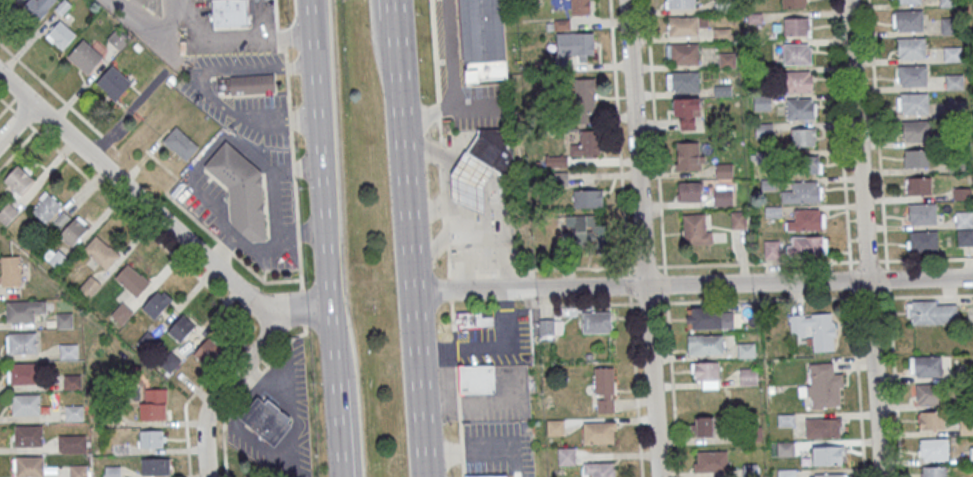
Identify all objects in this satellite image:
building: (5, 0)
building: (905, 1)
building: (793, 3)
building: (948, 3)
building: (680, 4)
building: (154, 6)
building: (580, 7)
building: (36, 8)
road: (394, 11)
building: (230, 14)
road: (276, 16)
road: (172, 18)
building: (907, 20)
building: (685, 25)
building: (949, 25)
building: (796, 26)
building: (60, 34)
road: (243, 38)
road: (281, 39)
building: (484, 39)
road: (378, 42)
building: (575, 44)
building: (911, 47)
road: (432, 50)
road: (449, 52)
building: (682, 53)
building: (797, 53)
building: (85, 56)
road: (286, 57)
parking lot: (236, 63)
road: (301, 66)
road: (214, 73)
building: (911, 75)
building: (683, 81)
building: (798, 81)
building: (113, 82)
building: (251, 84)
road: (288, 88)
road: (16, 89)
road: (58, 94)
building: (584, 101)
road: (479, 102)
building: (762, 103)
building: (913, 103)
building: (686, 106)
parking lot: (258, 108)
road: (437, 108)
building: (800, 108)
road: (4, 109)
parking lot: (483, 109)
road: (426, 112)
road: (277, 117)
road: (289, 117)
road: (16, 122)
road: (266, 126)
road: (438, 129)
building: (916, 130)
parking lot: (263, 133)
road: (877, 134)
road: (840, 135)
road: (618, 136)
building: (803, 136)
road: (654, 137)
building: (180, 143)
building: (588, 144)
road: (17, 148)
building: (494, 151)
road: (321, 153)
road: (440, 154)
building: (916, 158)
building: (689, 160)
building: (807, 164)
building: (724, 171)
road: (450, 176)
road: (441, 177)
building: (18, 179)
building: (469, 184)
building: (918, 186)
building: (690, 191)
building: (803, 192)
building: (241, 193)
building: (723, 194)
building: (588, 198)
road: (442, 199)
building: (46, 206)
road: (295, 207)
building: (7, 213)
building: (922, 213)
road: (444, 217)
building: (738, 219)
building: (807, 220)
building: (696, 228)
building: (964, 228)
road: (172, 229)
building: (582, 230)
building: (73, 231)
road: (445, 233)
road: (642, 238)
road: (864, 238)
building: (922, 241)
building: (805, 246)
building: (770, 248)
road: (228, 250)
road: (410, 250)
building: (101, 252)
building: (56, 257)
road: (924, 258)
road: (446, 260)
road: (865, 261)
road: (754, 263)
road: (645, 266)
road: (540, 267)
road: (192, 271)
building: (11, 273)
road: (887, 277)
building: (132, 279)
road: (850, 279)
road: (628, 283)
road: (665, 283)
road: (692, 284)
building: (90, 286)
road: (447, 289)
road: (925, 295)
road: (868, 296)
road: (758, 299)
building: (158, 301)
road: (541, 302)
road: (648, 302)
road: (590, 303)
road: (302, 307)
building: (24, 310)
building: (932, 312)
building: (121, 313)
road: (451, 316)
building: (710, 319)
building: (64, 320)
building: (473, 320)
building: (596, 321)
building: (182, 327)
road: (333, 327)
building: (550, 329)
building: (815, 330)
building: (22, 342)
building: (705, 345)
road: (454, 348)
building: (69, 351)
building: (208, 351)
building: (170, 362)
road: (335, 362)
building: (926, 365)
building: (24, 373)
building: (706, 374)
building: (748, 376)
road: (456, 377)
building: (476, 379)
building: (72, 382)
road: (857, 382)
road: (894, 382)
road: (228, 384)
road: (635, 384)
road: (672, 384)
building: (823, 386)
building: (604, 389)
road: (243, 391)
building: (929, 393)
road: (473, 400)
building: (26, 404)
road: (458, 404)
parking lot: (488, 410)
building: (153, 411)
building: (74, 413)
building: (267, 420)
building: (931, 420)
road: (351, 426)
building: (703, 426)
building: (823, 426)
road: (340, 427)
building: (555, 427)
road: (459, 430)
building: (599, 432)
building: (28, 435)
building: (151, 439)
building: (71, 442)
building: (120, 448)
road: (295, 448)
building: (785, 448)
road: (443, 449)
road: (489, 449)
parking lot: (495, 449)
building: (933, 449)
road: (461, 450)
building: (827, 454)
building: (971, 454)
building: (566, 456)
building: (710, 461)
road: (516, 462)
building: (29, 466)
building: (153, 466)
road: (462, 469)
building: (598, 469)
building: (79, 471)
building: (113, 471)
building: (934, 471)
building: (786, 472)
building: (830, 474)
building: (492, 476)

